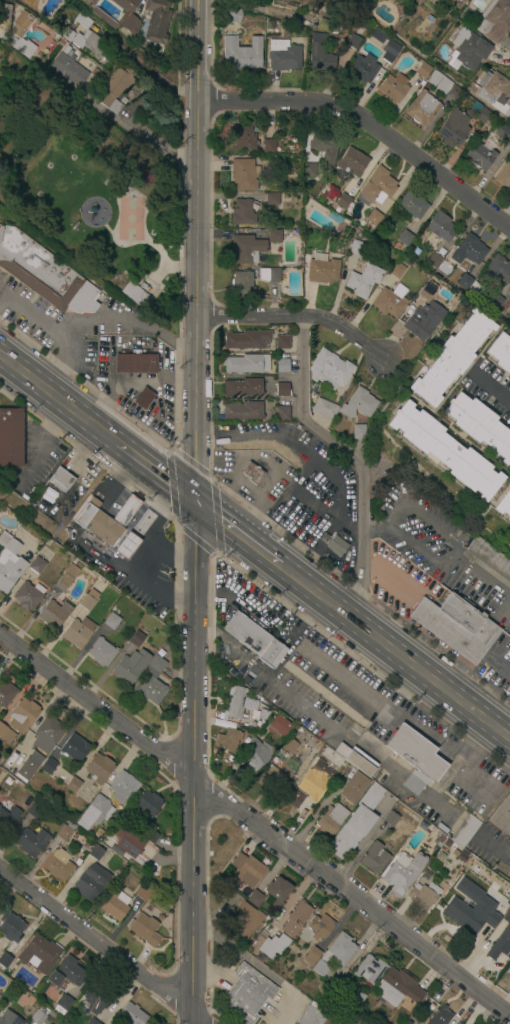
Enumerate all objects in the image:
building: (92, 1)
building: (433, 2)
building: (4, 12)
building: (233, 15)
building: (121, 16)
building: (82, 20)
building: (495, 20)
building: (156, 21)
building: (325, 25)
building: (21, 33)
building: (377, 36)
building: (55, 38)
building: (86, 42)
building: (354, 42)
building: (469, 48)
building: (391, 51)
building: (241, 52)
building: (321, 54)
building: (284, 56)
building: (364, 68)
building: (71, 70)
building: (423, 70)
road: (157, 78)
building: (435, 78)
building: (392, 88)
building: (449, 89)
building: (115, 90)
building: (495, 93)
building: (122, 101)
building: (424, 109)
building: (479, 112)
road: (368, 127)
building: (288, 128)
road: (139, 129)
building: (453, 129)
building: (503, 133)
building: (243, 138)
building: (269, 146)
building: (284, 147)
building: (325, 148)
building: (482, 155)
building: (352, 162)
building: (309, 171)
building: (245, 175)
building: (504, 177)
building: (107, 183)
building: (376, 187)
park: (87, 192)
building: (272, 199)
building: (343, 202)
building: (411, 205)
building: (243, 213)
park: (130, 217)
building: (373, 217)
building: (334, 218)
building: (440, 227)
building: (274, 236)
building: (405, 239)
road: (134, 242)
building: (396, 246)
building: (356, 248)
building: (247, 249)
building: (471, 250)
building: (433, 261)
road: (188, 267)
road: (161, 268)
building: (444, 269)
building: (396, 270)
building: (323, 271)
building: (498, 271)
building: (44, 273)
building: (138, 278)
building: (269, 279)
building: (362, 279)
building: (465, 282)
building: (242, 285)
building: (476, 290)
building: (428, 291)
building: (135, 295)
building: (509, 296)
building: (390, 301)
building: (494, 302)
building: (509, 313)
road: (298, 318)
road: (132, 319)
road: (42, 322)
building: (420, 323)
parking lot: (64, 325)
building: (247, 340)
building: (282, 342)
building: (501, 353)
building: (451, 358)
building: (134, 363)
building: (245, 364)
building: (282, 365)
building: (329, 370)
road: (56, 373)
building: (244, 387)
building: (281, 389)
road: (493, 390)
road: (57, 398)
building: (144, 399)
building: (358, 404)
building: (325, 410)
building: (243, 412)
building: (282, 413)
building: (480, 426)
road: (317, 431)
building: (359, 432)
road: (35, 436)
building: (10, 438)
road: (170, 450)
building: (445, 451)
road: (316, 464)
road: (154, 471)
building: (251, 473)
road: (116, 476)
building: (59, 479)
traffic signals: (195, 502)
road: (156, 505)
building: (503, 505)
road: (126, 507)
road: (315, 508)
road: (195, 511)
building: (104, 520)
gas station: (104, 520)
road: (376, 529)
road: (236, 533)
building: (4, 539)
road: (454, 543)
building: (126, 545)
building: (12, 546)
building: (338, 547)
road: (170, 549)
building: (490, 557)
building: (36, 565)
road: (144, 572)
building: (10, 574)
road: (365, 575)
road: (481, 575)
building: (66, 578)
building: (28, 596)
building: (87, 599)
road: (500, 609)
building: (52, 614)
building: (110, 620)
building: (457, 627)
building: (77, 632)
building: (246, 634)
building: (137, 637)
road: (222, 638)
road: (477, 640)
road: (477, 650)
building: (100, 651)
road: (393, 652)
building: (272, 654)
road: (496, 663)
building: (130, 667)
road: (452, 673)
building: (151, 682)
building: (6, 694)
building: (236, 703)
road: (98, 709)
building: (262, 714)
building: (23, 716)
building: (278, 726)
road: (426, 729)
building: (47, 733)
building: (6, 734)
building: (227, 740)
building: (246, 740)
building: (289, 746)
building: (73, 748)
building: (255, 754)
building: (414, 757)
building: (355, 759)
building: (29, 766)
building: (48, 766)
building: (98, 768)
building: (322, 771)
building: (272, 778)
building: (8, 782)
building: (73, 785)
building: (122, 788)
building: (354, 788)
building: (293, 798)
building: (146, 803)
building: (0, 806)
building: (35, 811)
building: (95, 813)
building: (502, 816)
building: (330, 819)
building: (8, 820)
building: (356, 823)
building: (399, 824)
building: (465, 830)
building: (65, 832)
building: (99, 833)
building: (440, 839)
building: (509, 841)
building: (31, 842)
building: (126, 842)
road: (494, 845)
building: (97, 851)
building: (375, 858)
building: (58, 864)
building: (247, 870)
building: (402, 871)
building: (92, 883)
building: (276, 892)
building: (143, 893)
building: (421, 897)
building: (255, 899)
road: (353, 899)
building: (114, 905)
building: (243, 915)
building: (473, 916)
building: (295, 918)
building: (11, 927)
building: (316, 929)
building: (145, 930)
building: (500, 939)
road: (103, 945)
building: (273, 945)
building: (38, 954)
building: (334, 954)
building: (312, 957)
building: (5, 960)
building: (370, 970)
building: (66, 973)
building: (397, 988)
building: (249, 993)
building: (359, 995)
building: (98, 996)
building: (63, 1005)
building: (39, 1015)
building: (52, 1015)
building: (130, 1015)
building: (313, 1016)
building: (440, 1016)
building: (9, 1018)
building: (93, 1022)

